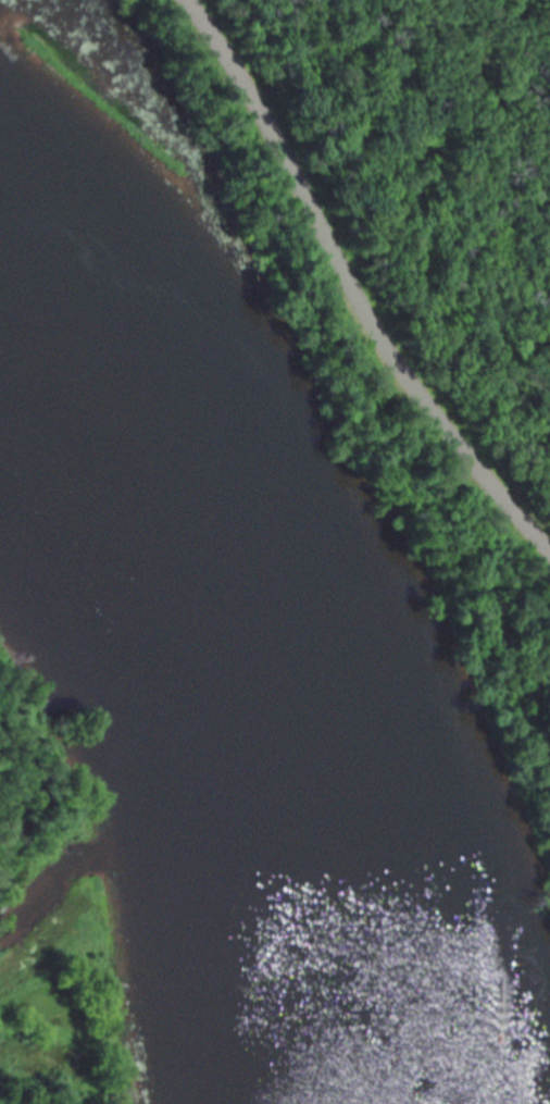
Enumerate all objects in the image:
road: (353, 282)
river: (93, 412)
river: (274, 827)

